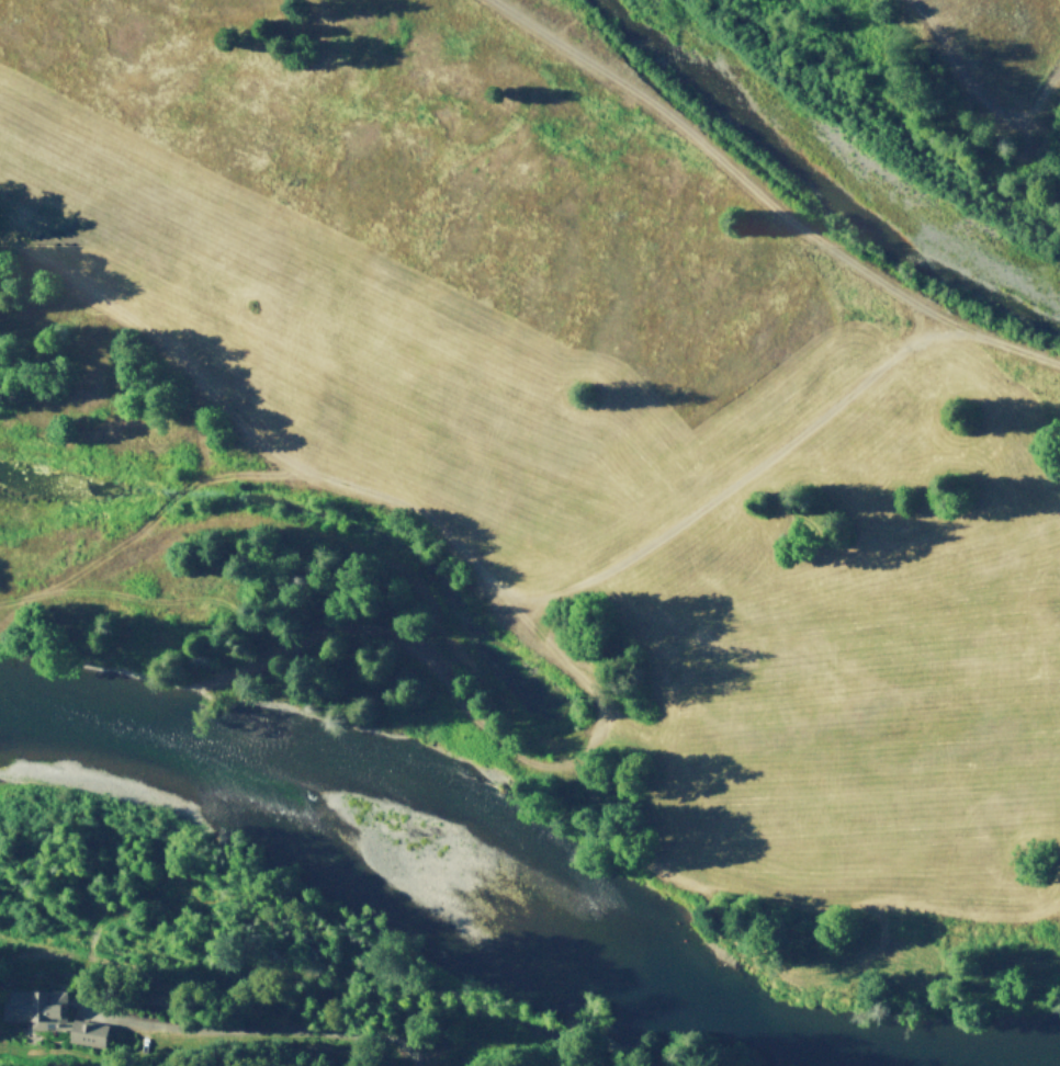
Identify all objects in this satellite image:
river: (830, 175)
river: (462, 865)
building: (36, 1005)
building: (90, 1031)
river: (1050, 1064)

